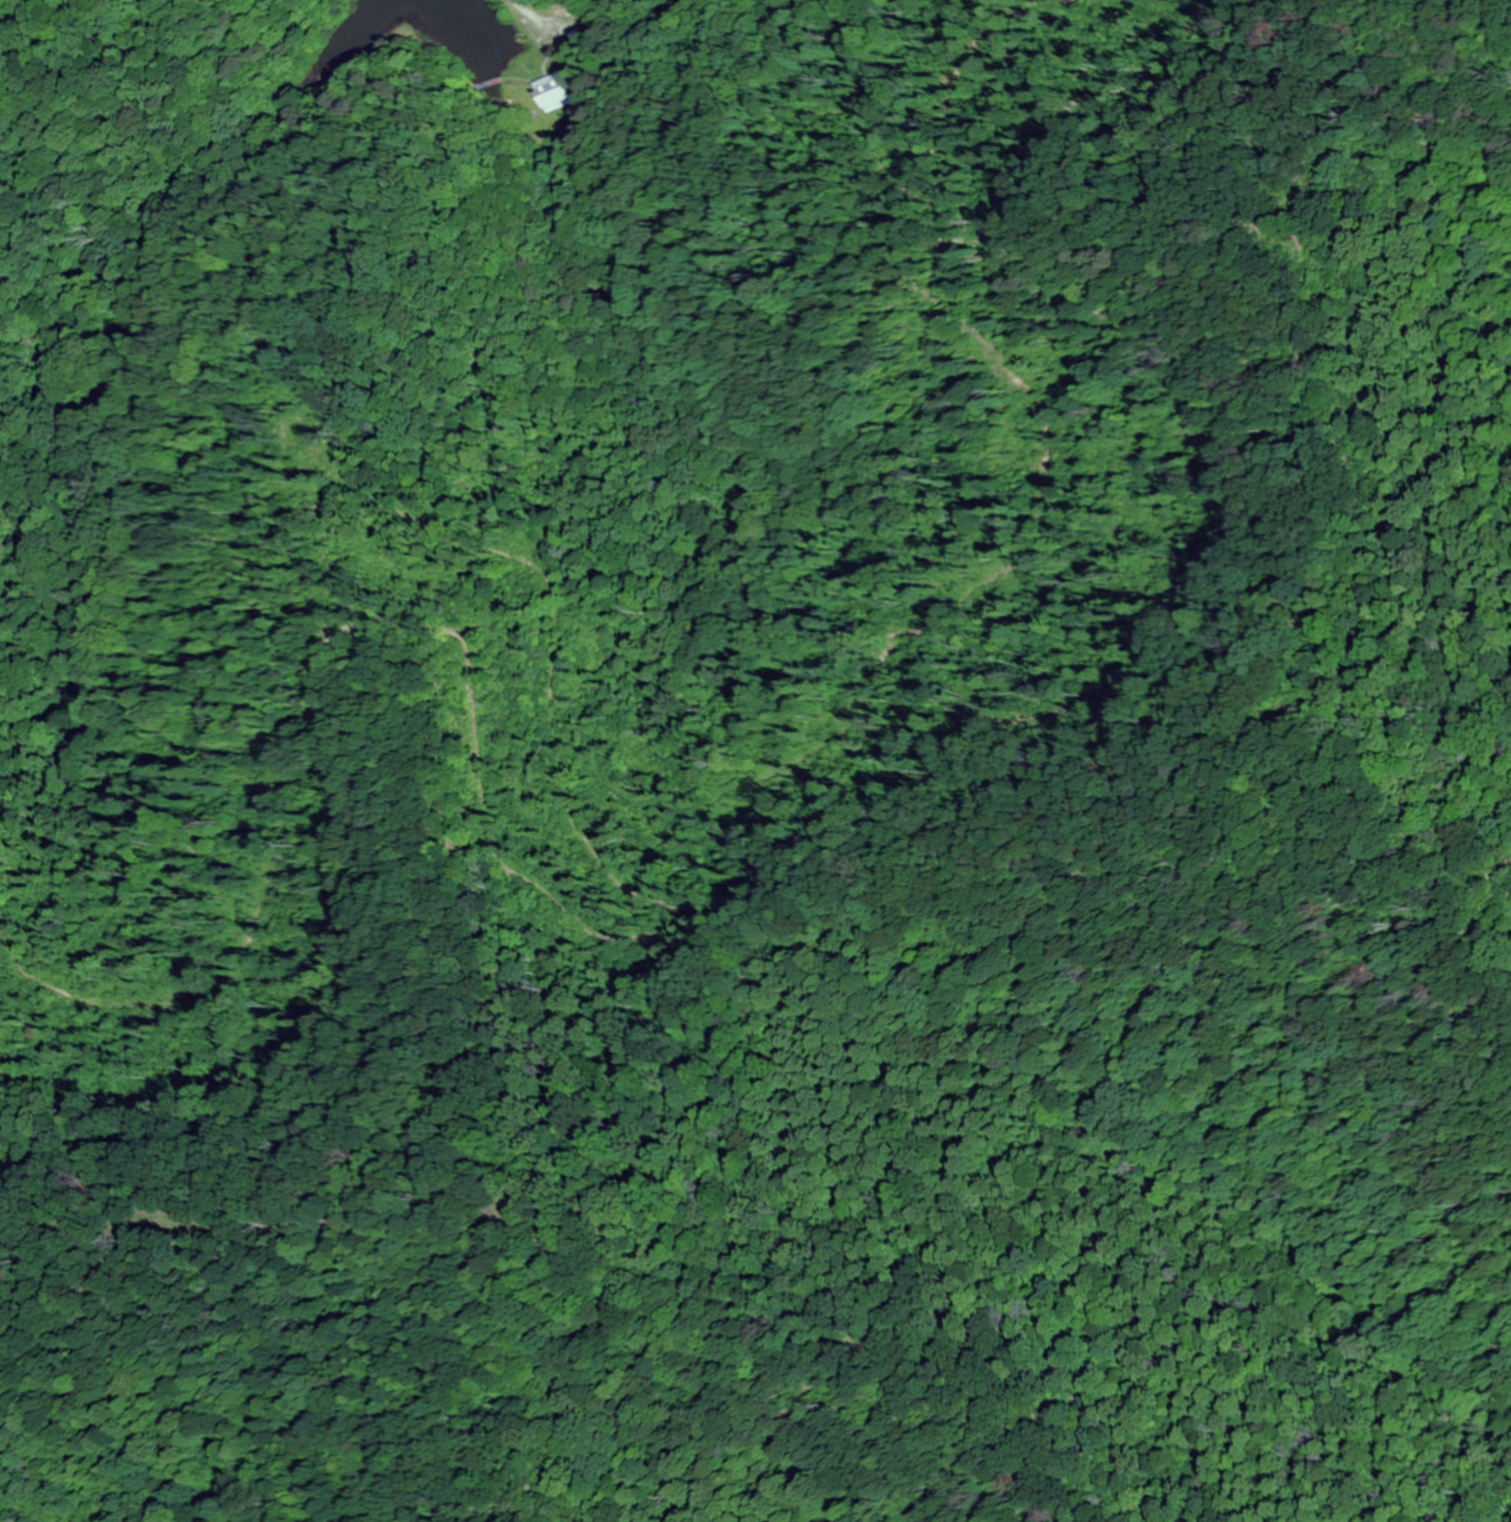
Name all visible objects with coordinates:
building: (555, 92)

